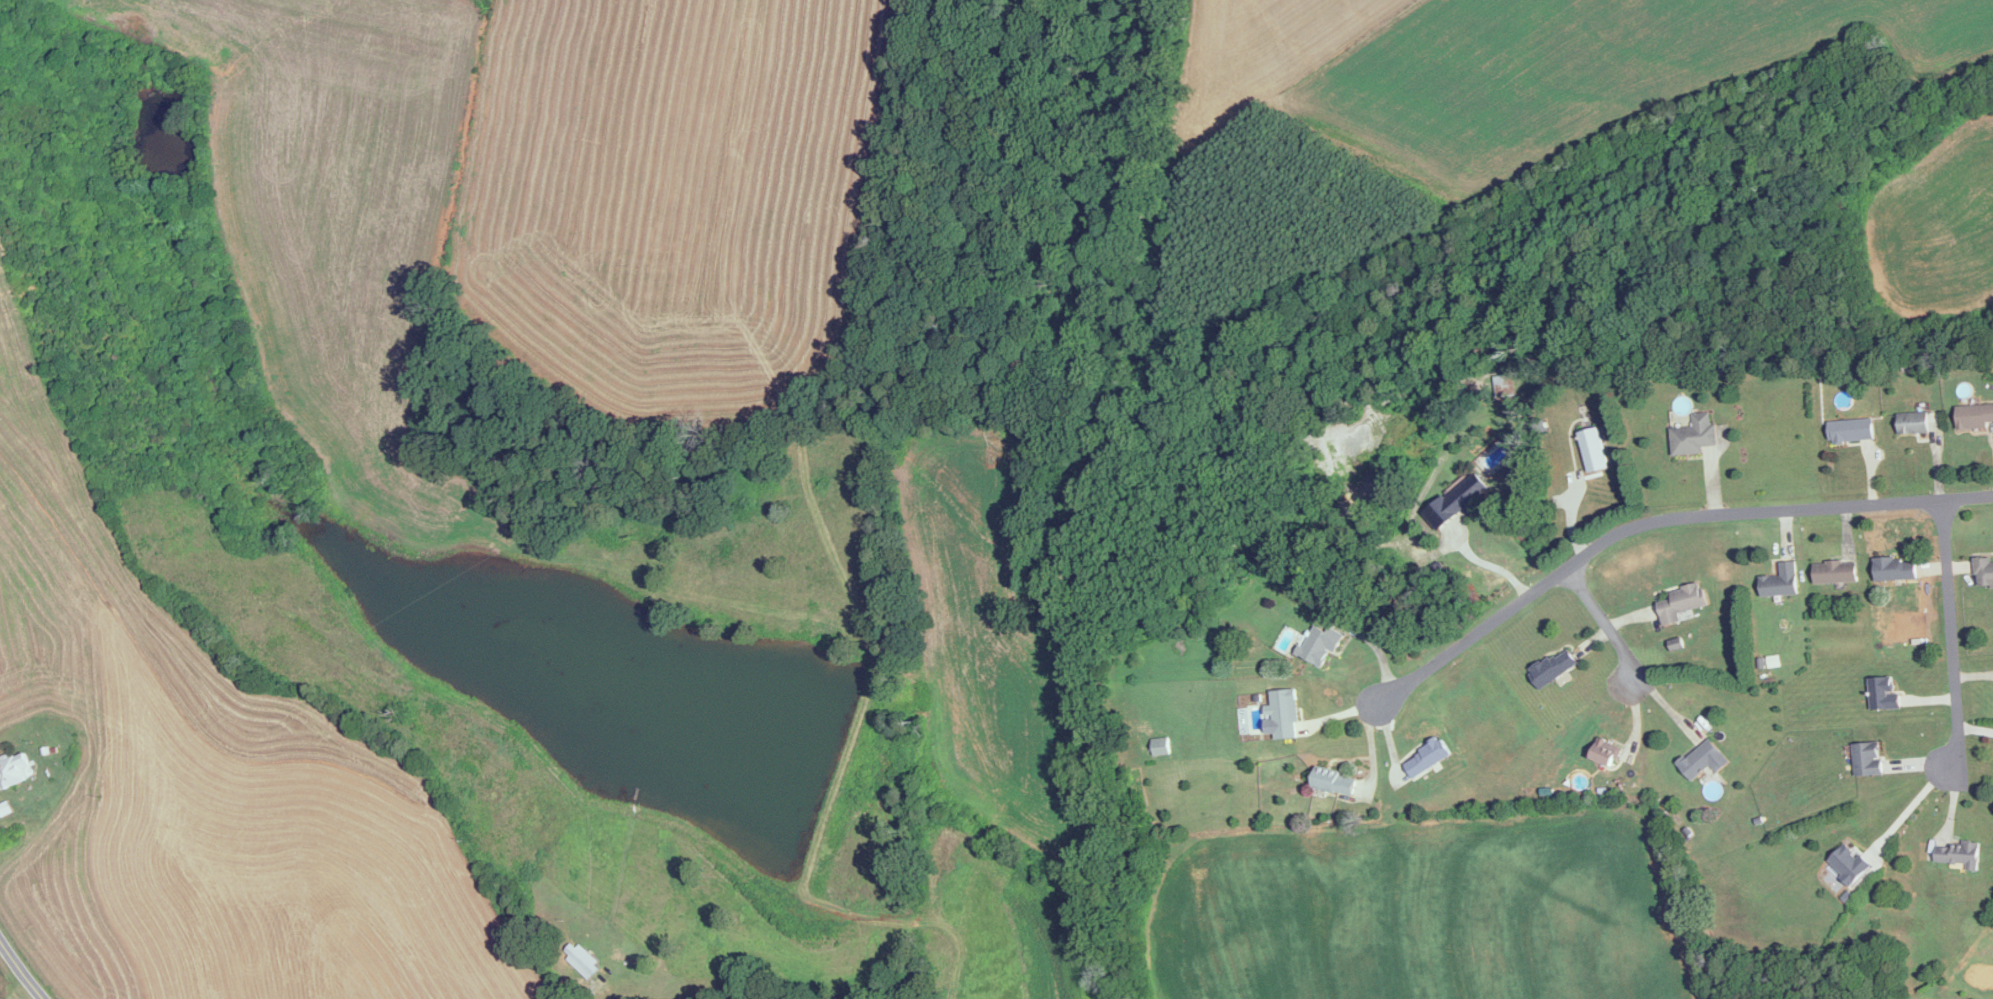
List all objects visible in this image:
building: (1973, 417)
building: (1912, 423)
building: (1850, 431)
building: (1693, 437)
building: (1456, 502)
road: (1656, 523)
road: (1490, 565)
building: (1895, 569)
building: (1834, 572)
building: (1983, 572)
building: (1780, 582)
building: (1680, 603)
road: (1603, 622)
road: (1948, 635)
building: (1319, 645)
building: (1551, 668)
building: (1882, 695)
building: (1281, 715)
building: (1160, 747)
building: (1604, 753)
building: (1425, 758)
building: (1866, 760)
building: (1701, 761)
building: (17, 770)
building: (1331, 782)
road: (1906, 810)
building: (1957, 854)
building: (1848, 865)
building: (585, 960)
road: (20, 970)

